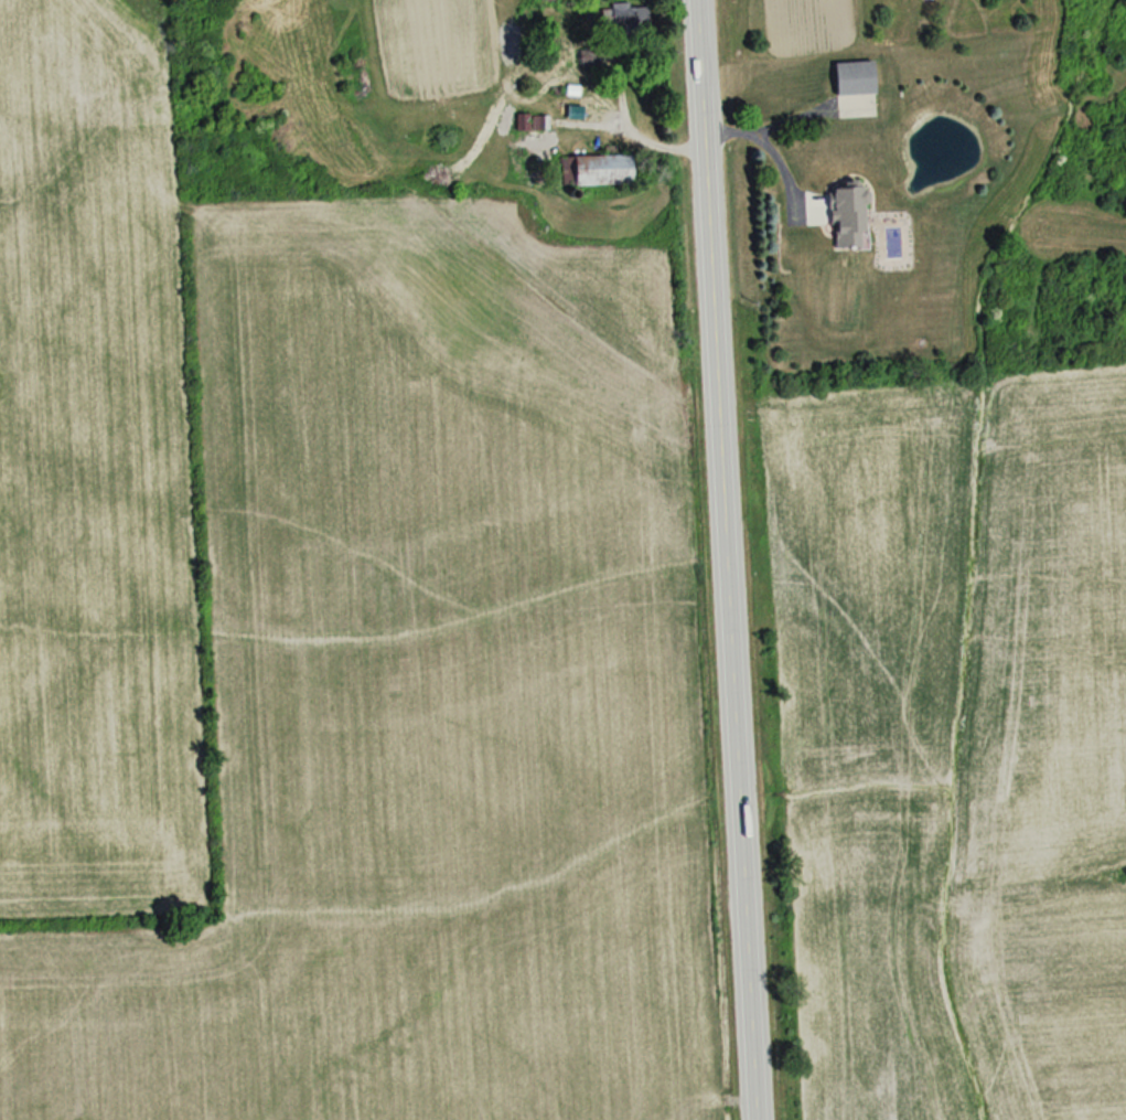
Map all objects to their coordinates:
building: (543, 0)
building: (624, 18)
building: (852, 77)
building: (528, 124)
road: (772, 153)
building: (599, 171)
building: (846, 217)
road: (722, 559)

